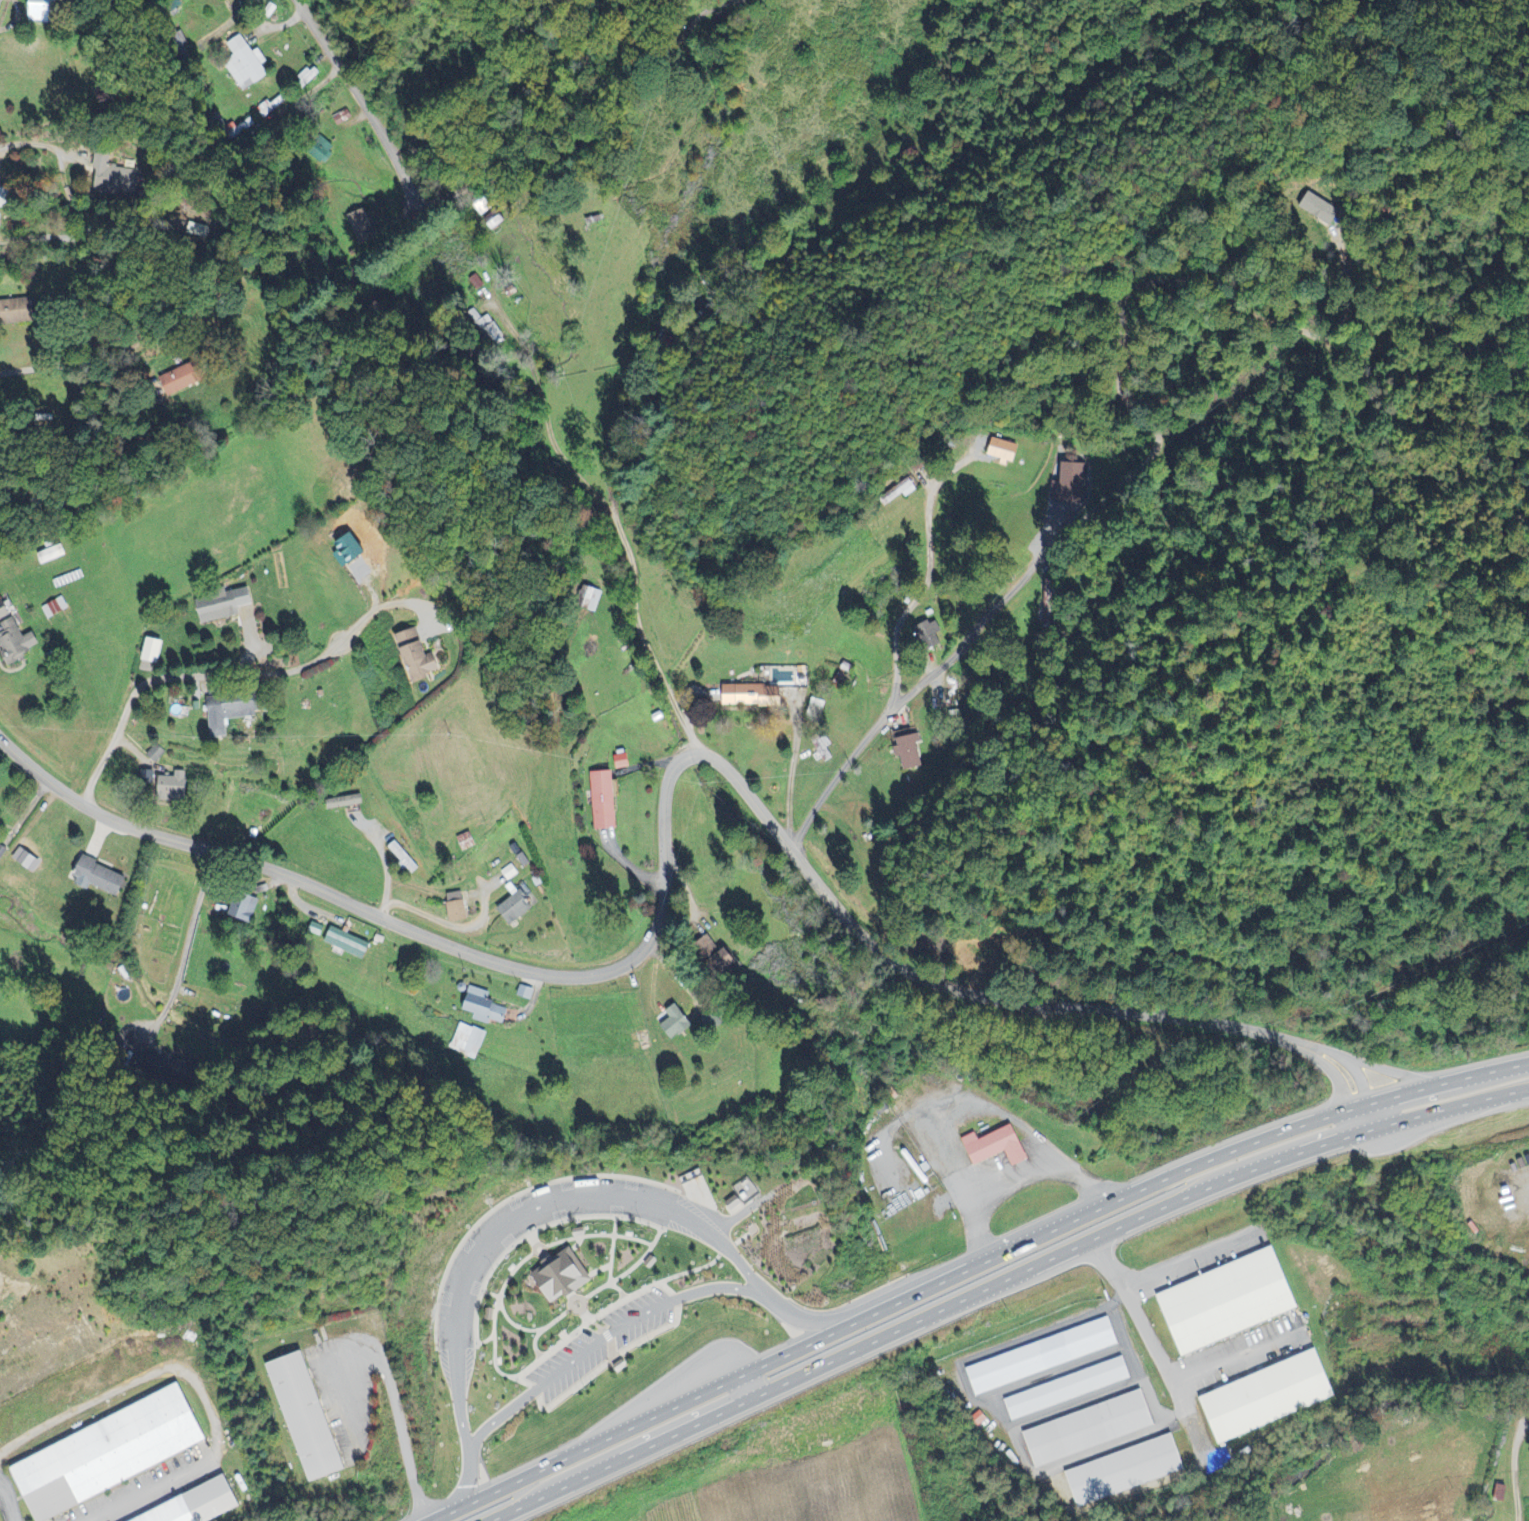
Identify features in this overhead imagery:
building: (46, 8)
road: (706, 8)
road: (273, 25)
building: (246, 65)
road: (300, 96)
road: (363, 103)
road: (564, 118)
road: (39, 145)
building: (118, 178)
building: (6, 198)
building: (1319, 210)
building: (360, 227)
road: (88, 231)
road: (1348, 286)
building: (18, 311)
road: (19, 369)
building: (190, 376)
road: (630, 409)
building: (1002, 450)
road: (1096, 500)
road: (611, 518)
building: (351, 552)
building: (52, 555)
road: (923, 577)
building: (226, 607)
building: (56, 609)
building: (5, 611)
building: (19, 642)
building: (154, 651)
building: (421, 657)
road: (233, 673)
building: (755, 697)
building: (233, 712)
building: (824, 749)
building: (910, 749)
building: (157, 754)
building: (622, 762)
road: (790, 775)
building: (175, 787)
building: (605, 801)
building: (346, 803)
building: (0, 815)
building: (468, 842)
building: (404, 858)
road: (382, 861)
building: (511, 873)
building: (103, 879)
building: (459, 908)
building: (517, 908)
building: (246, 910)
road: (412, 931)
building: (349, 944)
road: (186, 946)
building: (528, 993)
road: (990, 997)
building: (486, 1008)
building: (679, 1024)
road: (1370, 1115)
building: (999, 1146)
building: (733, 1200)
road: (531, 1207)
building: (578, 1229)
road: (532, 1230)
road: (597, 1234)
road: (531, 1238)
road: (576, 1243)
road: (533, 1246)
road: (543, 1255)
parking lot: (473, 1259)
road: (611, 1260)
building: (650, 1260)
road: (710, 1262)
road: (974, 1266)
road: (599, 1269)
road: (628, 1270)
building: (559, 1272)
road: (1006, 1284)
road: (571, 1294)
road: (571, 1301)
building: (1230, 1302)
building: (488, 1312)
parking lot: (640, 1314)
road: (494, 1315)
road: (506, 1317)
road: (833, 1320)
road: (544, 1327)
road: (603, 1328)
flagpole: (564, 1332)
flagpole: (561, 1334)
road: (605, 1335)
road: (485, 1339)
building: (1042, 1357)
parking lot: (569, 1362)
building: (619, 1363)
road: (1169, 1372)
road: (532, 1384)
building: (1068, 1389)
building: (1269, 1398)
building: (304, 1413)
building: (1090, 1429)
building: (106, 1451)
building: (1125, 1471)
road: (1517, 1472)
road: (145, 1488)
road: (468, 1488)
building: (1504, 1492)
building: (193, 1502)
road: (7, 1503)

